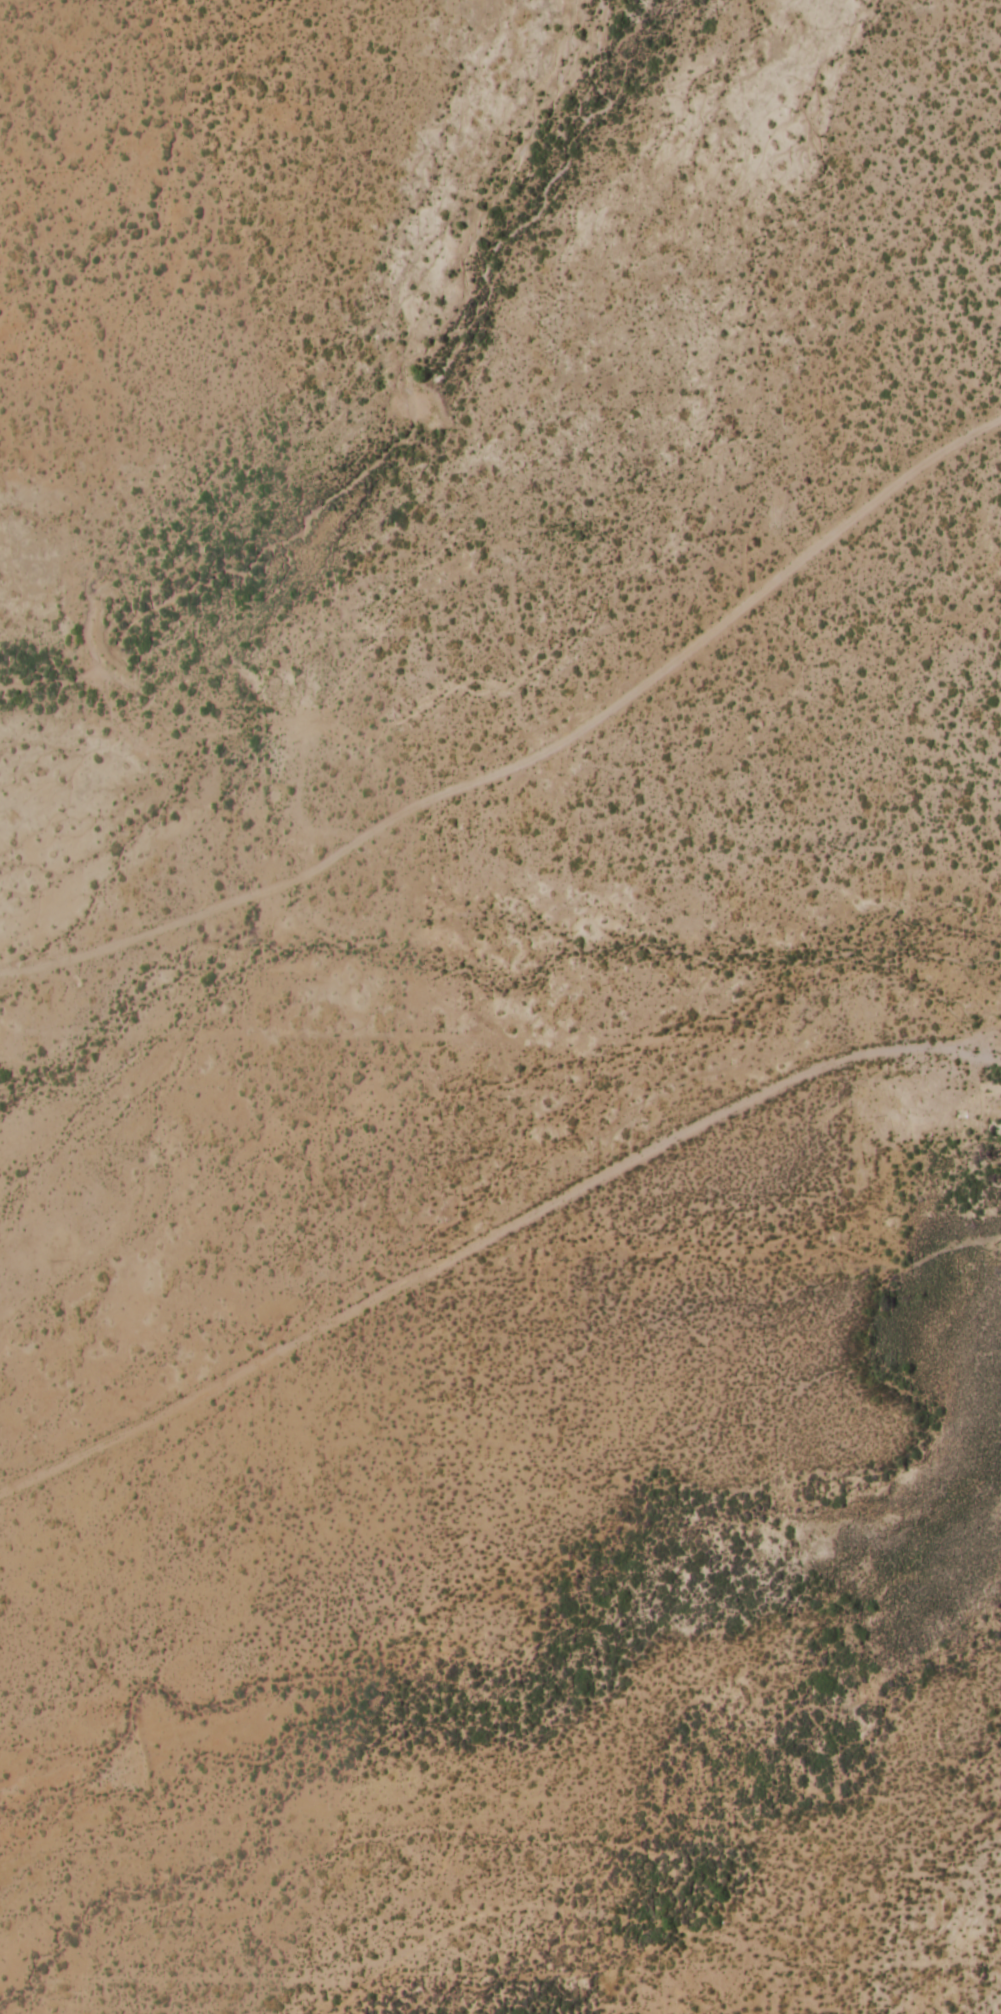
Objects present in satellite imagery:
road: (532, 757)
road: (968, 1055)
building: (962, 1115)
building: (995, 1130)
road: (492, 1236)

